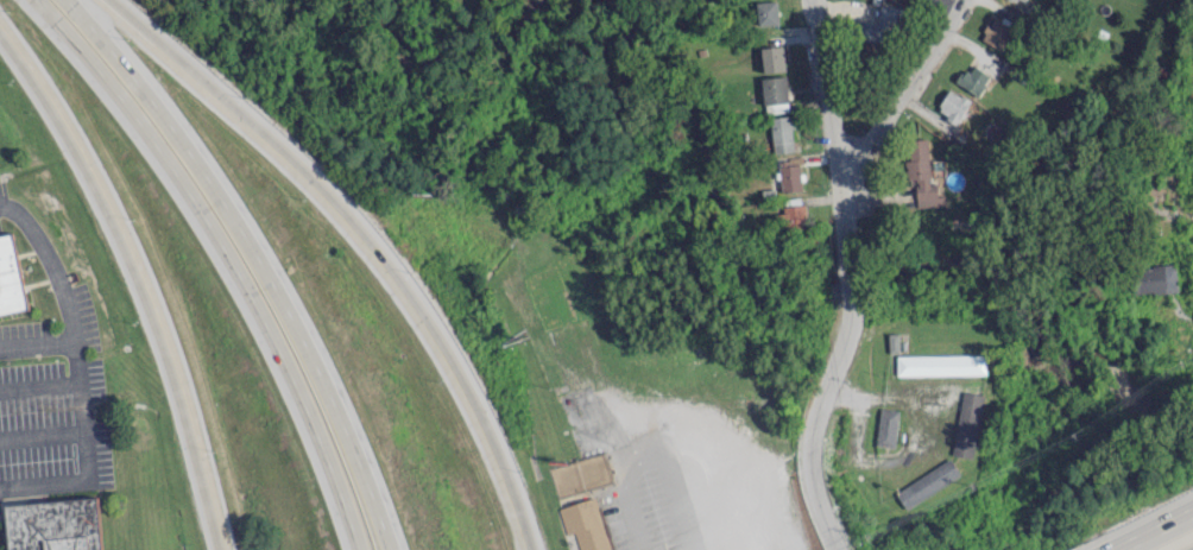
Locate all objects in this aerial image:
building: (1022, 0)
building: (766, 12)
building: (877, 24)
building: (997, 32)
building: (772, 57)
building: (972, 78)
building: (775, 89)
building: (953, 105)
road: (879, 127)
building: (782, 133)
building: (921, 172)
building: (789, 173)
building: (791, 217)
road: (365, 239)
road: (255, 257)
road: (222, 259)
building: (12, 277)
road: (138, 277)
road: (852, 278)
building: (1155, 278)
road: (1185, 317)
road: (37, 342)
building: (894, 342)
building: (941, 363)
road: (77, 373)
road: (39, 392)
building: (967, 423)
building: (886, 426)
road: (42, 432)
building: (927, 482)
road: (671, 488)
building: (586, 521)
building: (62, 526)
road: (1149, 530)

